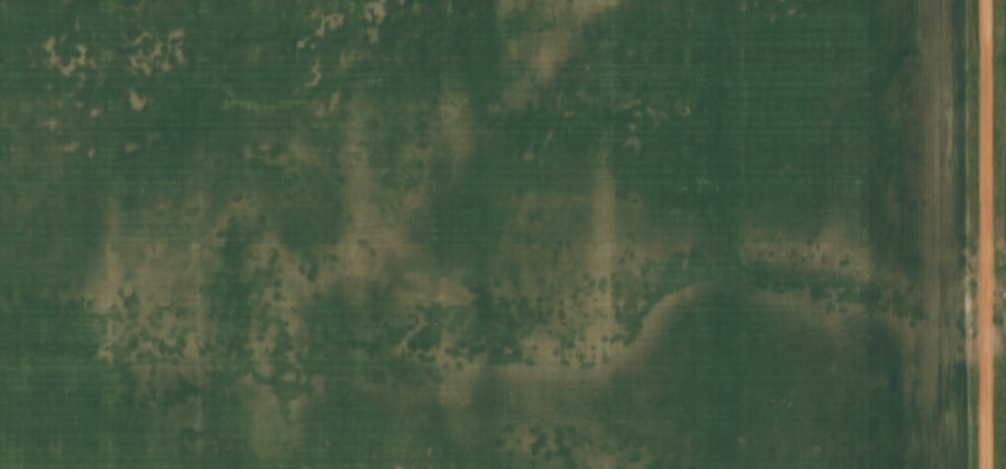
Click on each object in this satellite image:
road: (989, 234)

